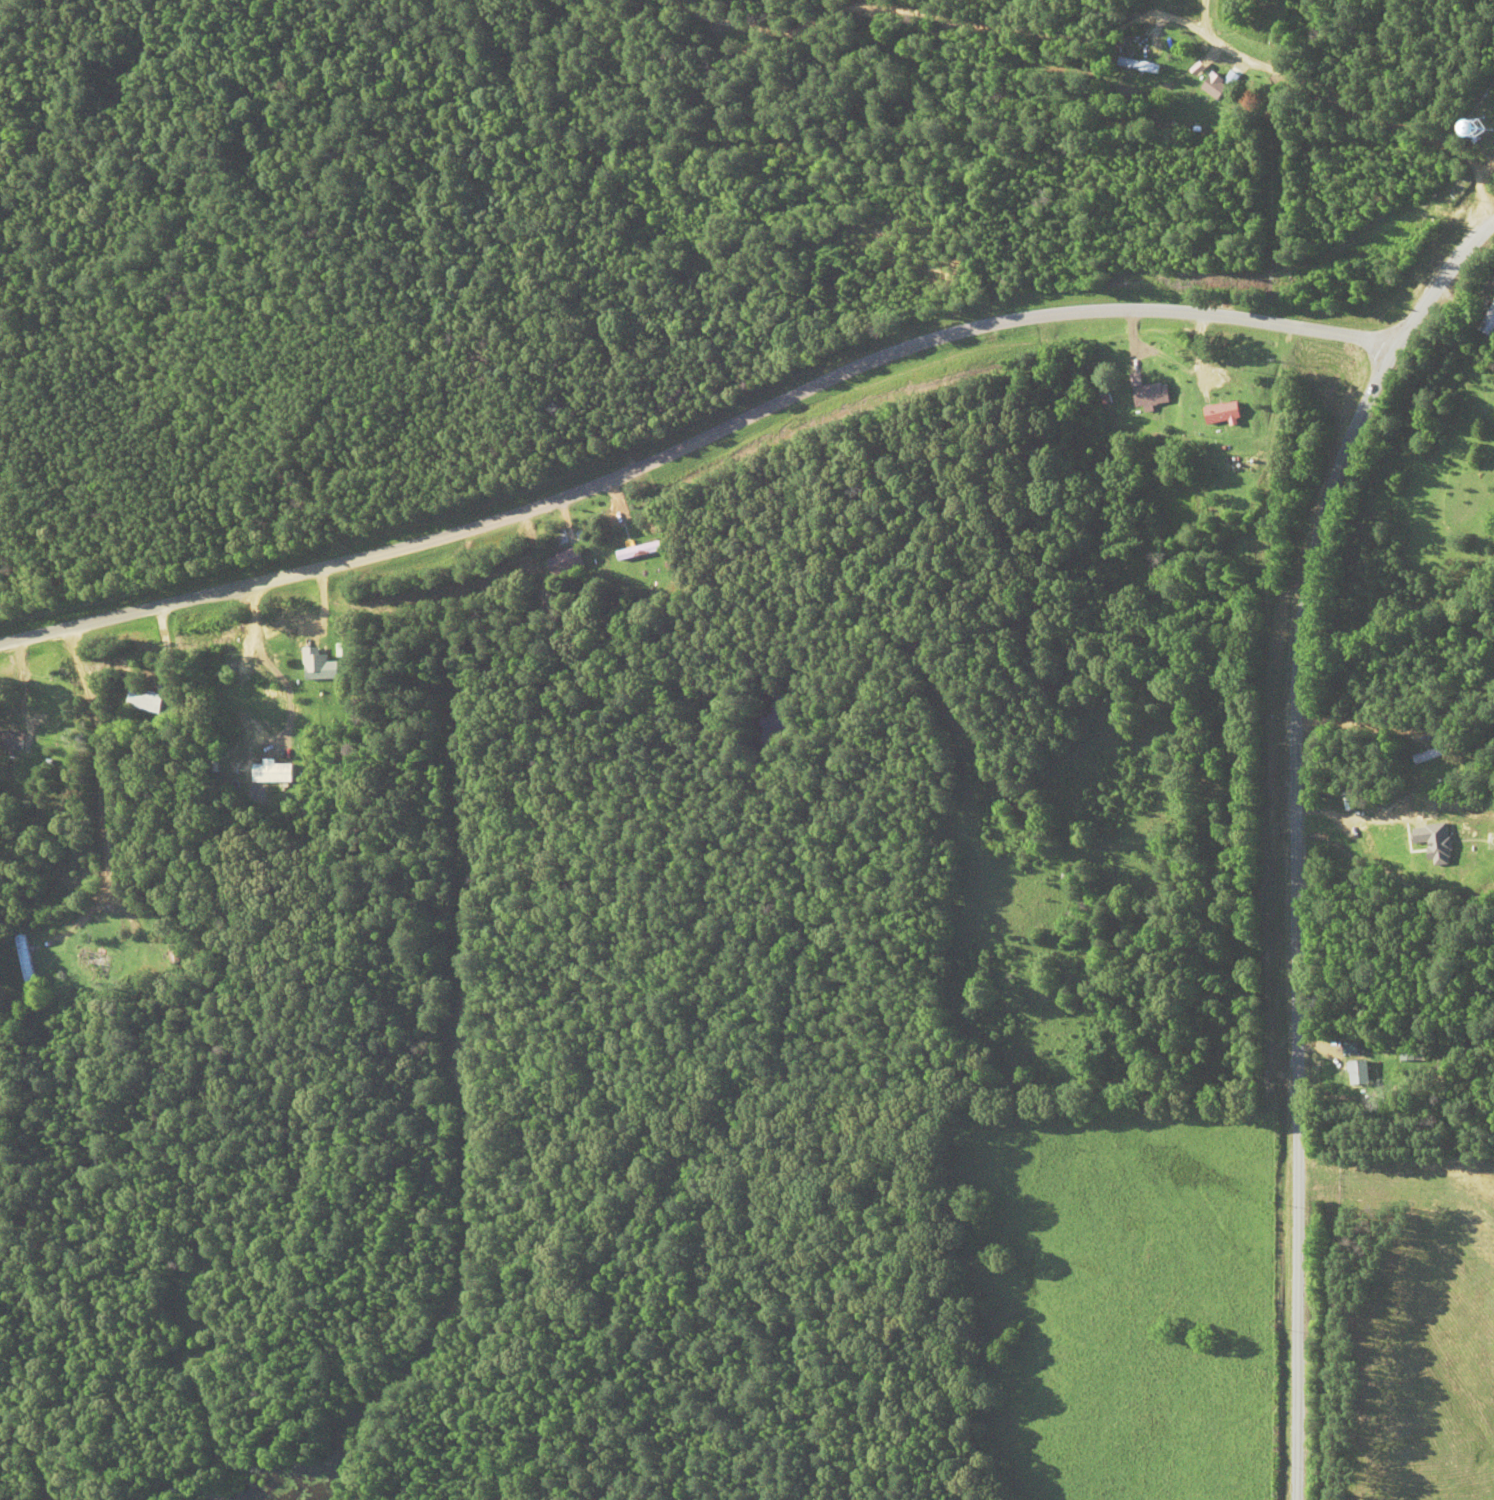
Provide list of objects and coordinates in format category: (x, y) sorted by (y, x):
road: (1103, 51)
building: (1138, 64)
building: (1214, 85)
building: (1485, 127)
building: (1488, 322)
building: (1147, 391)
building: (1223, 412)
road: (696, 440)
building: (1240, 461)
building: (637, 550)
building: (563, 561)
building: (320, 665)
building: (147, 700)
building: (12, 739)
road: (1295, 832)
building: (1370, 843)
building: (173, 946)
building: (24, 957)
building: (93, 961)
building: (1351, 1042)
building: (1359, 1072)
road: (1395, 1143)

